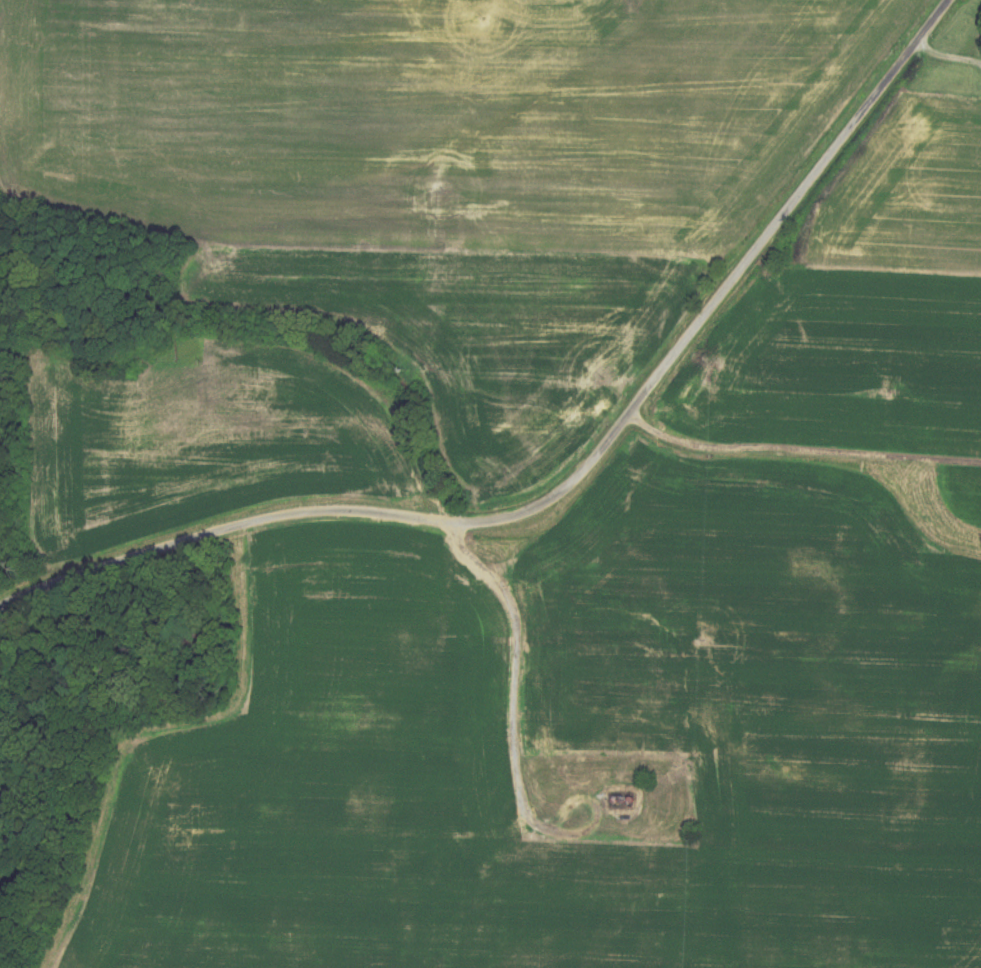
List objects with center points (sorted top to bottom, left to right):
road: (945, 53)
road: (6, 180)
road: (801, 447)
road: (406, 465)
road: (571, 476)
road: (516, 670)

